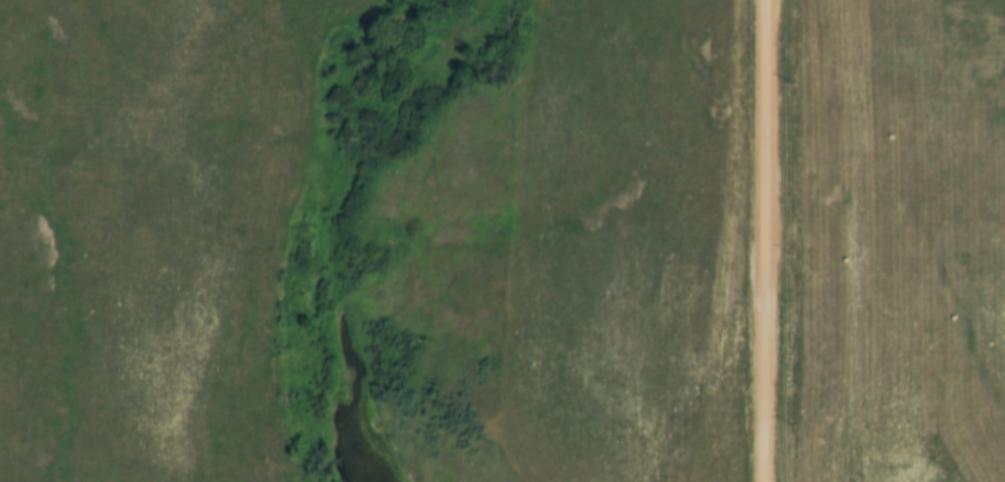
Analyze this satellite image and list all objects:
road: (763, 241)

